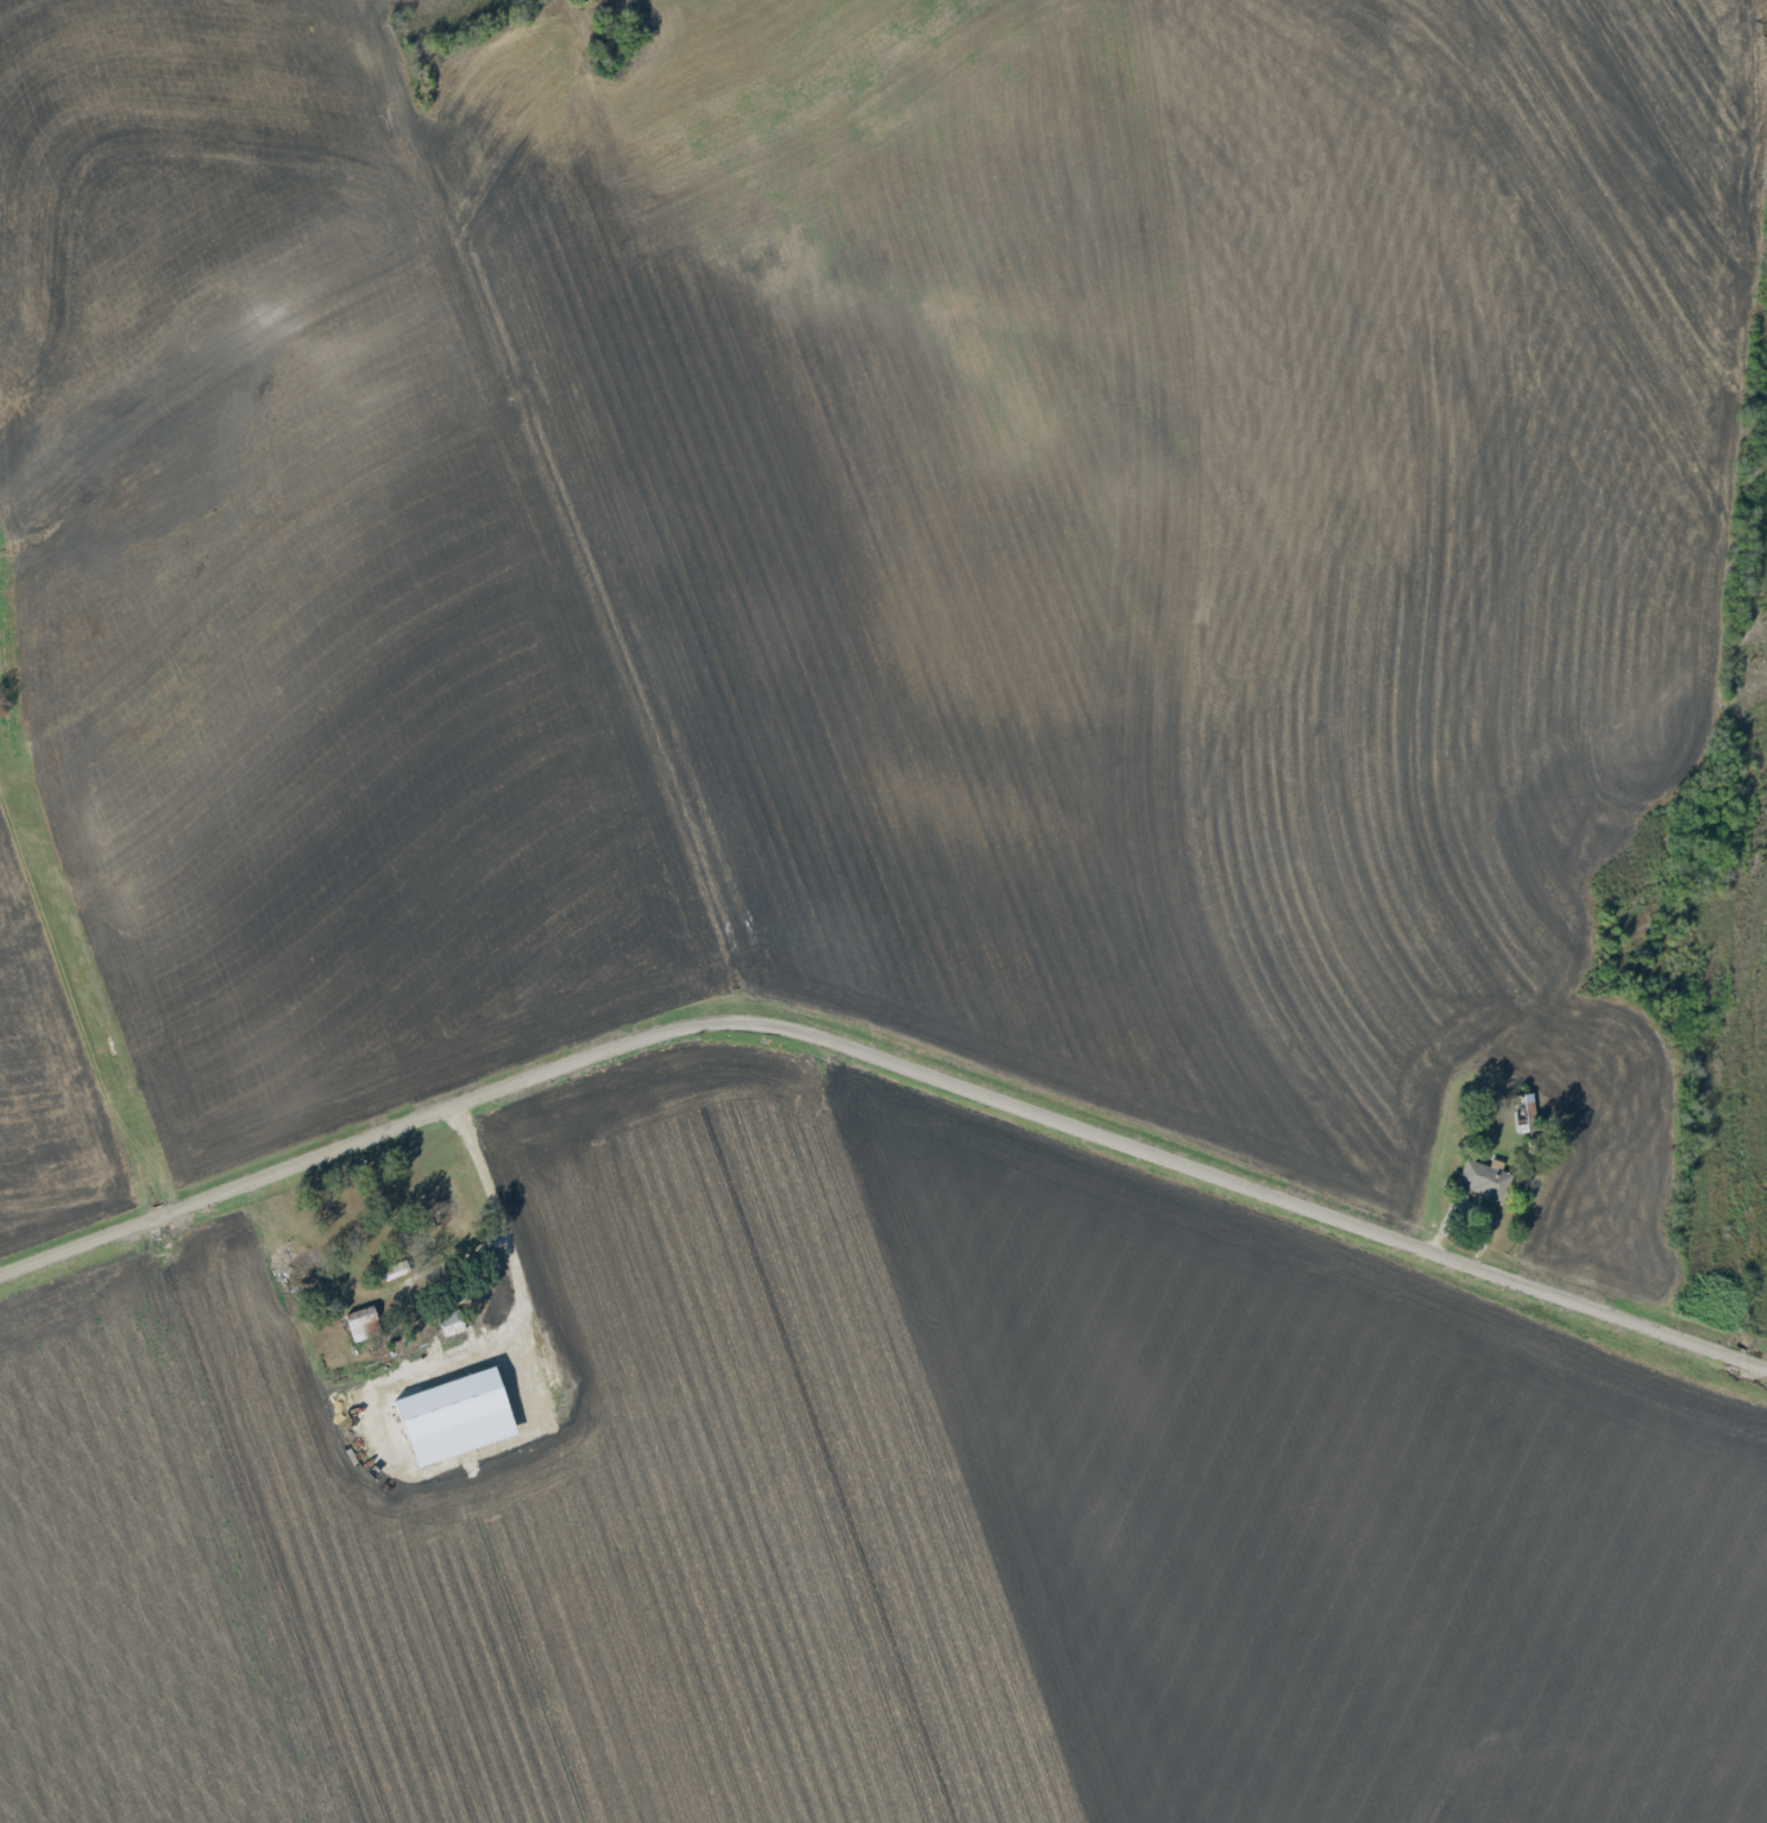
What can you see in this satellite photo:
road: (885, 1061)
building: (530, 1125)
building: (1483, 1180)
building: (359, 1322)
building: (455, 1417)

